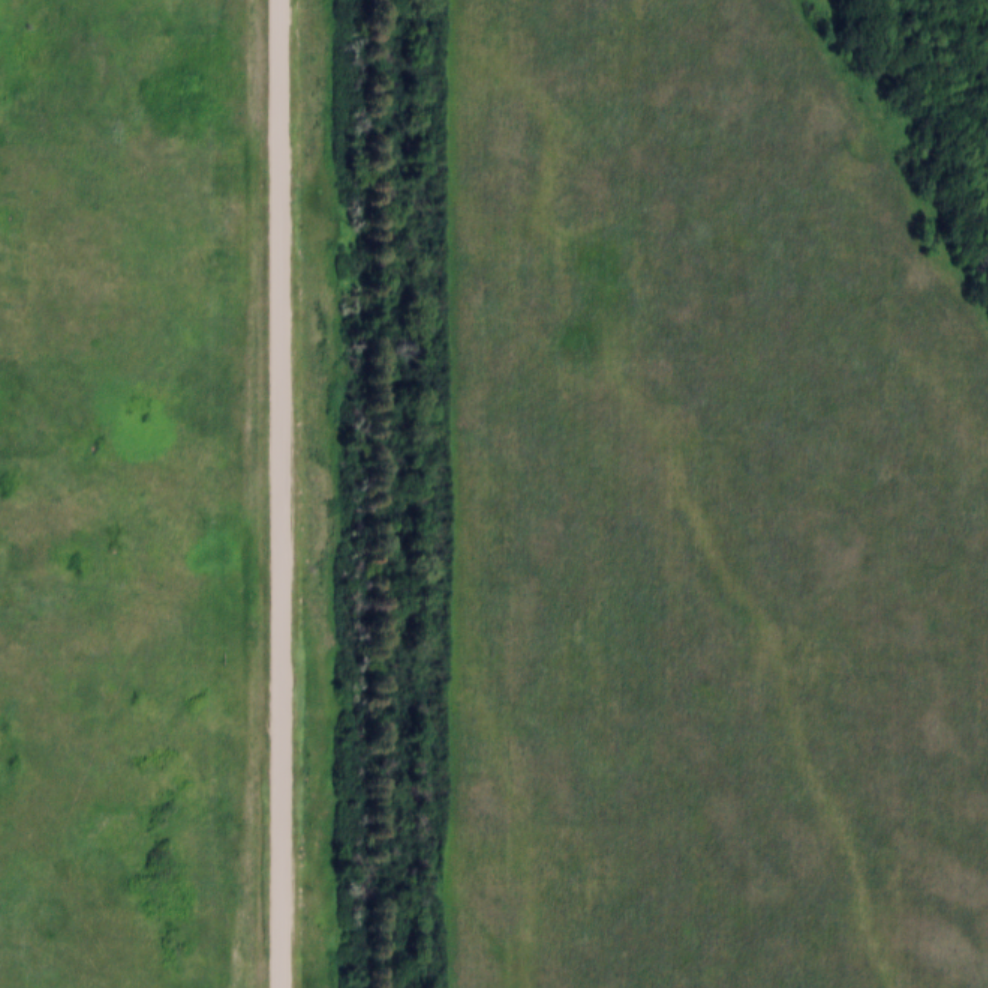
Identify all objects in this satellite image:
road: (281, 494)

